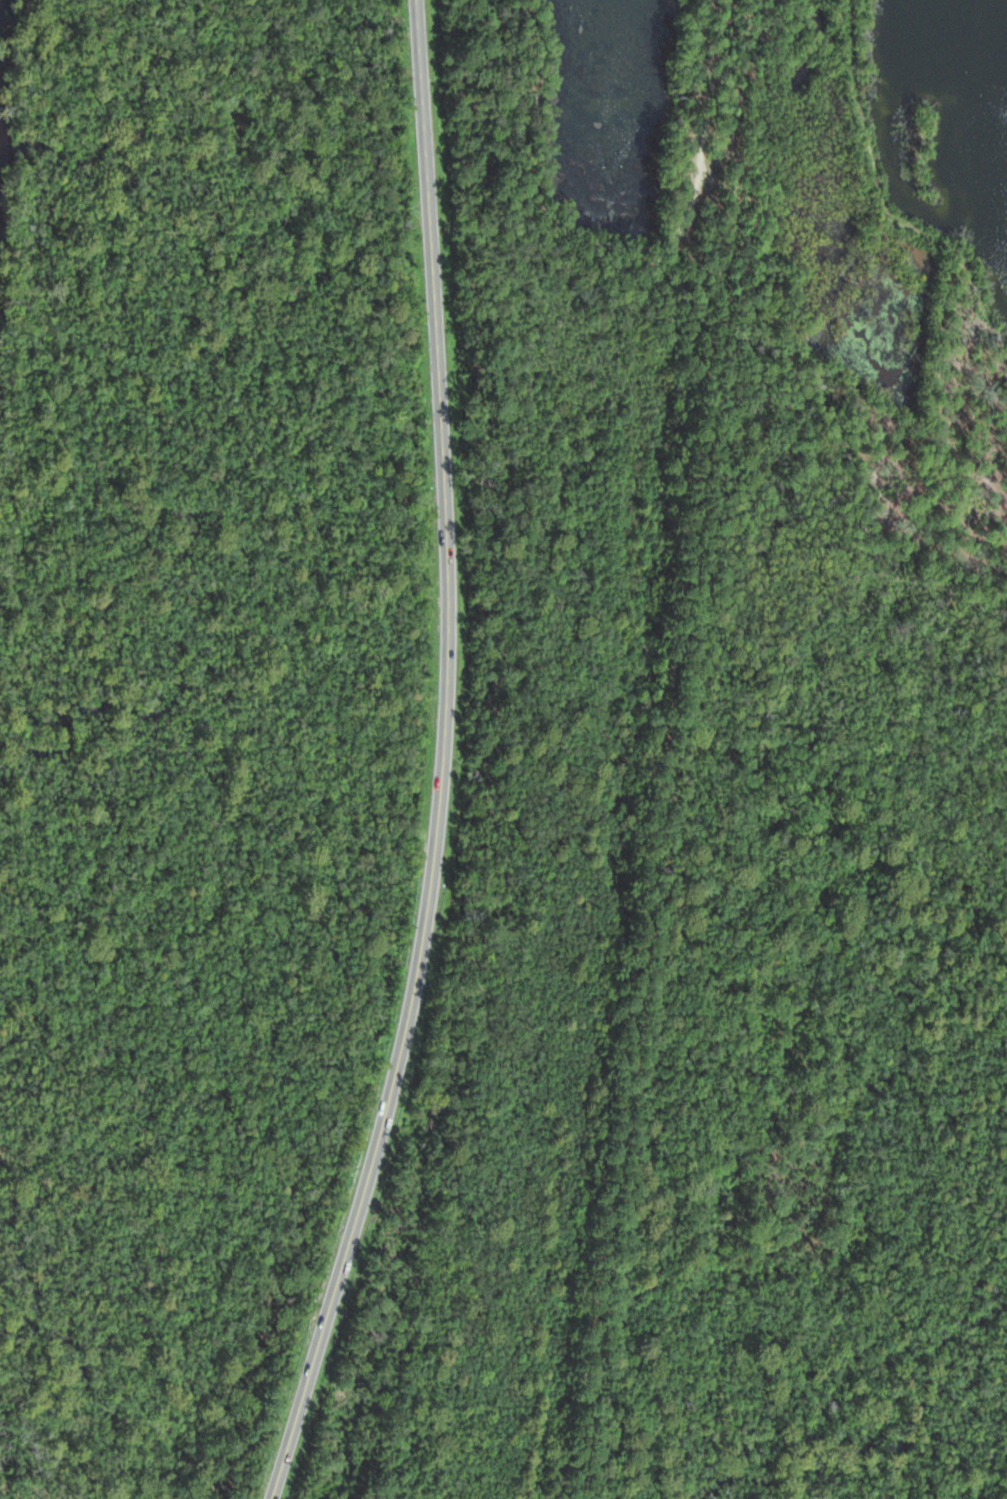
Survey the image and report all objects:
park: (587, 137)
road: (880, 195)
road: (621, 252)
road: (439, 759)

